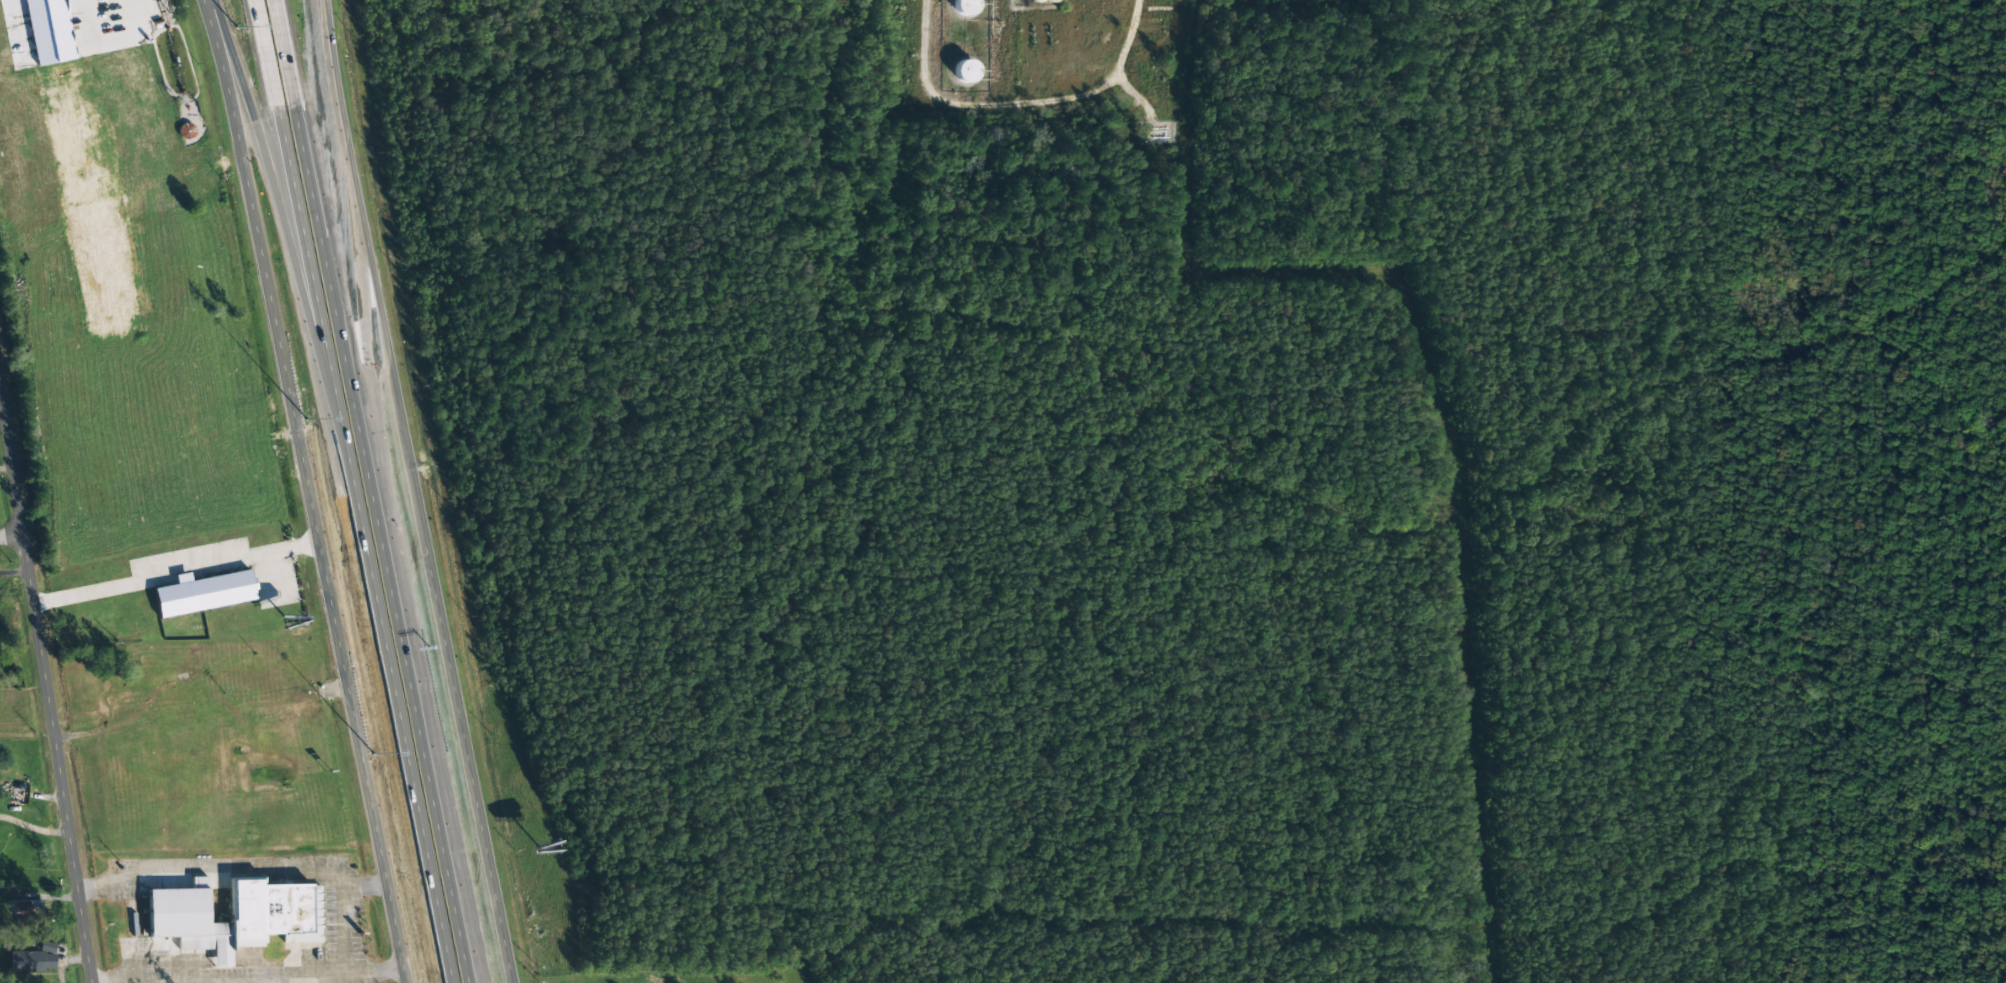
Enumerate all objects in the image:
building: (964, 7)
road: (144, 8)
road: (20, 31)
building: (37, 33)
road: (286, 53)
road: (264, 54)
building: (964, 71)
building: (186, 131)
road: (324, 161)
road: (270, 179)
road: (308, 490)
road: (416, 491)
road: (12, 539)
road: (381, 544)
road: (364, 545)
building: (203, 593)
road: (46, 679)
building: (235, 916)
building: (34, 959)

